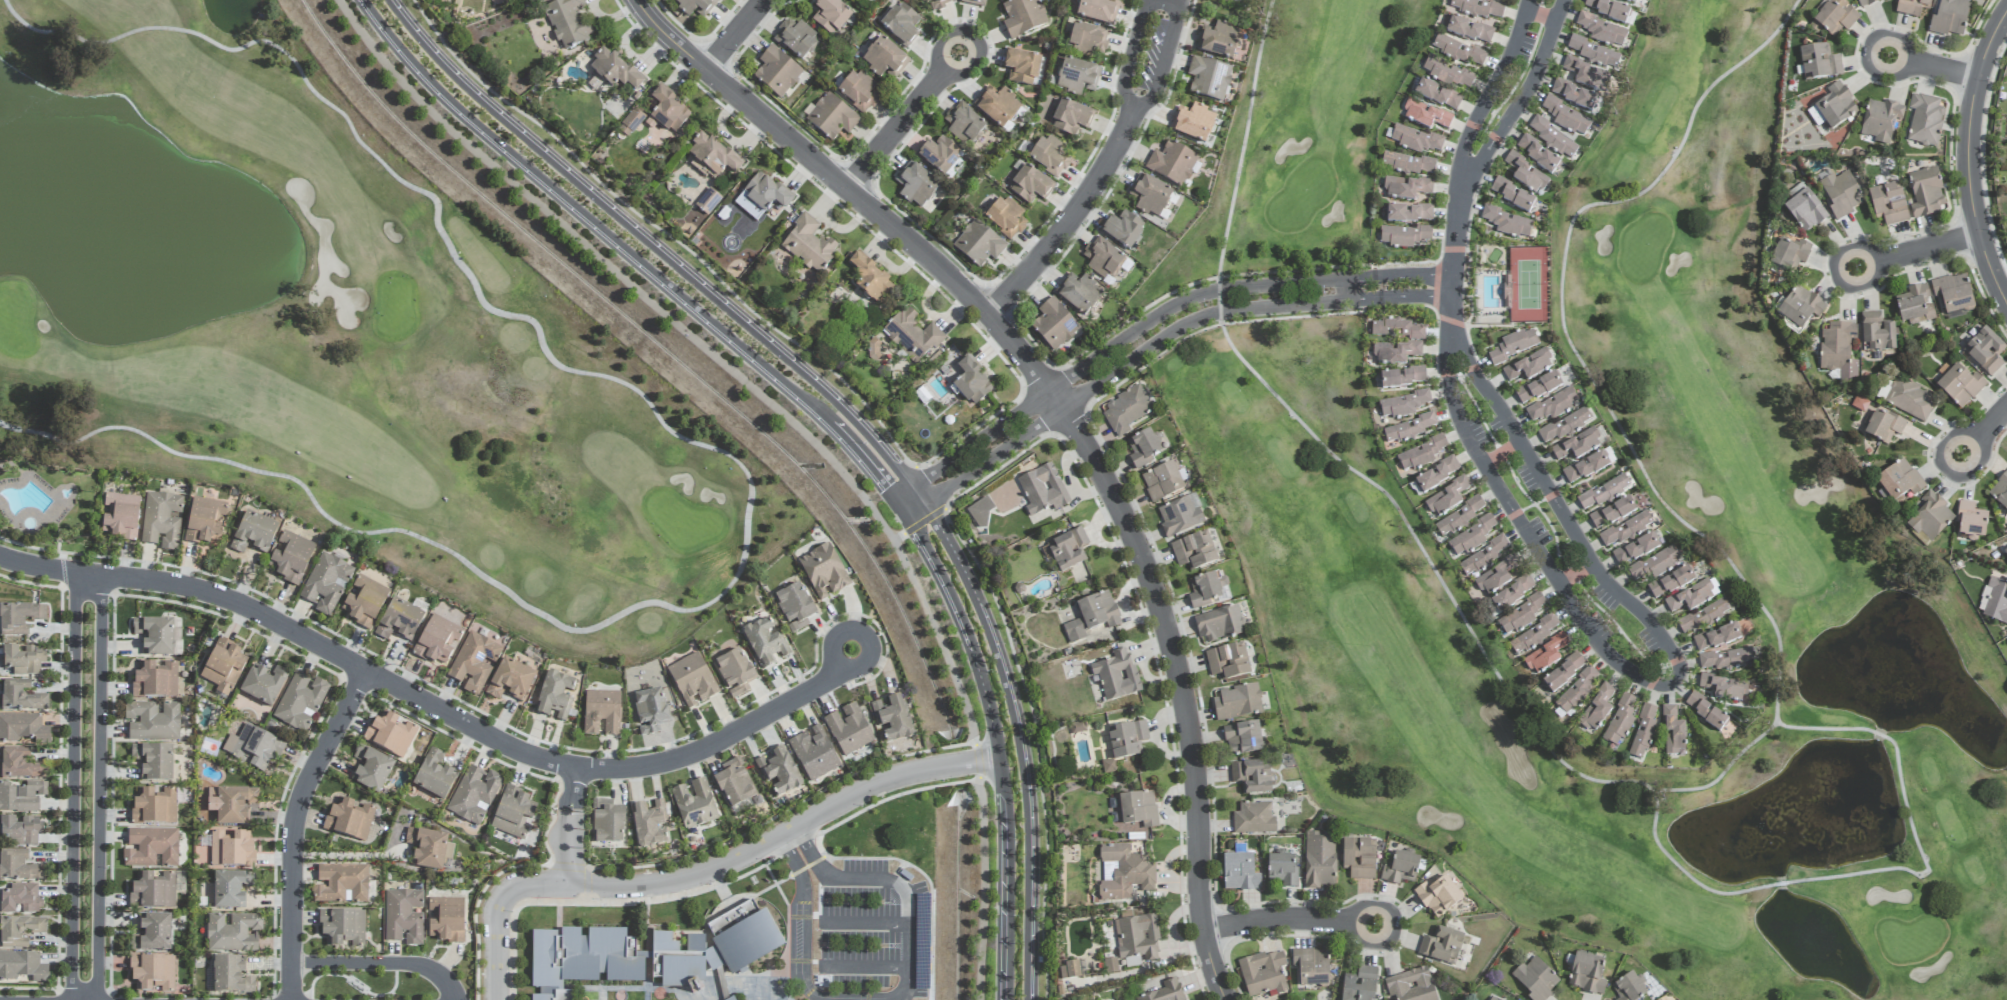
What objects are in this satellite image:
building: (1629, 1)
building: (974, 2)
building: (1865, 2)
building: (936, 3)
park: (1236, 5)
building: (695, 6)
building: (1912, 7)
building: (1478, 8)
building: (1607, 9)
building: (1097, 11)
building: (830, 16)
building: (1022, 17)
road: (1539, 17)
building: (1836, 17)
building: (1950, 18)
building: (567, 22)
building: (901, 24)
building: (1469, 30)
building: (1602, 31)
road: (735, 33)
road: (1893, 37)
building: (795, 38)
building: (1087, 39)
building: (1218, 40)
road: (945, 42)
road: (1134, 51)
building: (1458, 51)
building: (1593, 52)
road: (1165, 54)
building: (884, 58)
road: (971, 63)
building: (1819, 64)
building: (1021, 67)
building: (614, 69)
road: (1942, 70)
building: (777, 72)
road: (1883, 73)
building: (1447, 74)
building: (1586, 75)
building: (1076, 77)
building: (1209, 79)
building: (859, 91)
building: (1437, 95)
building: (1573, 95)
building: (997, 106)
building: (1836, 106)
building: (669, 111)
building: (1425, 115)
building: (1565, 116)
building: (1814, 117)
building: (831, 118)
building: (1070, 118)
building: (1925, 120)
building: (1881, 121)
building: (1193, 123)
building: (964, 124)
road: (898, 126)
building: (1552, 138)
building: (1414, 139)
building: (1537, 154)
building: (939, 155)
building: (713, 156)
building: (1050, 156)
road: (1970, 159)
building: (1172, 163)
building: (1405, 164)
road: (1471, 165)
road: (1664, 169)
building: (1525, 173)
building: (915, 185)
building: (1029, 185)
building: (1406, 188)
building: (764, 192)
building: (1925, 193)
building: (1841, 194)
building: (1512, 195)
building: (1150, 196)
building: (1888, 204)
building: (1805, 211)
building: (1409, 214)
road: (1076, 217)
building: (1006, 218)
building: (1506, 222)
building: (1123, 229)
road: (663, 233)
building: (1403, 236)
road: (1453, 242)
building: (978, 244)
building: (808, 245)
road: (658, 250)
building: (1789, 254)
road: (1903, 257)
building: (1102, 258)
road: (633, 259)
building: (871, 280)
road: (1346, 290)
road: (1446, 291)
building: (1506, 291)
building: (1079, 293)
building: (1953, 293)
building: (1915, 305)
building: (1800, 308)
road: (1147, 322)
building: (1053, 325)
building: (1396, 330)
building: (1877, 333)
park: (341, 335)
building: (912, 335)
road: (698, 343)
road: (1152, 343)
building: (1513, 346)
building: (1838, 351)
building: (1985, 352)
building: (1395, 353)
building: (1529, 366)
building: (1402, 378)
building: (971, 382)
building: (1960, 386)
building: (1538, 389)
building: (1910, 399)
building: (1403, 404)
building: (1552, 406)
building: (1126, 410)
road: (1069, 421)
building: (1564, 426)
building: (1883, 426)
building: (1408, 429)
road: (1976, 443)
building: (1578, 445)
building: (1142, 449)
building: (1420, 454)
road: (730, 457)
building: (1586, 467)
building: (1436, 475)
park: (1756, 478)
building: (1899, 481)
building: (1162, 482)
road: (929, 487)
building: (1042, 490)
building: (1603, 492)
building: (2000, 492)
building: (1447, 498)
building: (980, 512)
building: (1612, 513)
building: (120, 516)
building: (1180, 516)
building: (1459, 517)
building: (1929, 518)
building: (161, 521)
building: (203, 521)
building: (1971, 521)
road: (917, 524)
building: (1625, 530)
building: (252, 533)
building: (1471, 537)
building: (1068, 549)
building: (1635, 549)
building: (1194, 552)
building: (2005, 553)
building: (291, 557)
building: (1483, 557)
building: (1655, 565)
building: (823, 572)
building: (1496, 576)
road: (88, 579)
building: (1670, 583)
building: (326, 584)
road: (86, 586)
building: (1207, 590)
building: (1512, 593)
building: (1691, 597)
building: (363, 601)
building: (1996, 601)
building: (794, 607)
building: (1520, 615)
building: (1092, 616)
building: (1703, 617)
building: (19, 618)
building: (399, 621)
road: (984, 624)
building: (1218, 624)
building: (1533, 635)
building: (153, 636)
building: (1716, 638)
building: (436, 640)
building: (764, 642)
road: (868, 642)
building: (1545, 655)
building: (22, 659)
building: (1725, 659)
building: (1228, 662)
building: (474, 663)
building: (222, 666)
building: (735, 673)
building: (1116, 675)
building: (153, 680)
building: (510, 680)
building: (692, 680)
building: (263, 684)
road: (1667, 685)
building: (1724, 688)
building: (1578, 691)
road: (1507, 692)
building: (554, 695)
building: (20, 696)
building: (300, 702)
building: (1236, 702)
road: (425, 703)
building: (1597, 709)
building: (650, 711)
building: (1705, 711)
building: (601, 713)
building: (892, 718)
building: (152, 721)
building: (1620, 721)
building: (23, 728)
road: (1822, 728)
building: (848, 729)
building: (1672, 731)
building: (1643, 732)
building: (389, 734)
road: (1880, 735)
building: (1242, 738)
building: (1127, 739)
road: (1035, 744)
building: (254, 747)
road: (996, 748)
building: (814, 753)
road: (978, 761)
building: (153, 762)
building: (18, 764)
building: (371, 769)
building: (779, 771)
building: (434, 775)
road: (885, 777)
building: (1252, 777)
building: (734, 783)
building: (474, 795)
building: (22, 796)
building: (694, 803)
road: (981, 803)
building: (231, 804)
building: (152, 806)
building: (1138, 808)
building: (512, 813)
building: (348, 819)
building: (1253, 819)
building: (607, 822)
road: (568, 824)
building: (648, 824)
road: (293, 827)
building: (20, 829)
building: (150, 848)
building: (231, 849)
building: (428, 849)
road: (349, 857)
building: (1358, 858)
road: (813, 859)
building: (1319, 860)
building: (18, 867)
building: (1282, 869)
building: (1400, 869)
road: (1925, 871)
building: (1125, 872)
road: (1684, 872)
building: (1239, 873)
road: (1027, 876)
road: (594, 882)
building: (341, 884)
road: (1779, 884)
building: (230, 889)
building: (153, 891)
building: (1438, 896)
building: (20, 899)
road: (1944, 906)
road: (906, 913)
road: (982, 914)
building: (403, 916)
building: (446, 919)
road: (1304, 919)
building: (342, 927)
building: (19, 931)
building: (152, 933)
building: (233, 933)
building: (1137, 939)
building: (1441, 945)
building: (653, 954)
road: (801, 956)
road: (382, 963)
building: (22, 967)
building: (1311, 967)
building: (1069, 970)
building: (152, 973)
building: (1263, 973)
building: (1586, 974)
building: (231, 976)
building: (1535, 979)
building: (1360, 985)
building: (1410, 986)
building: (1628, 988)
building: (1165, 992)
road: (84, 998)
building: (1492, 999)

